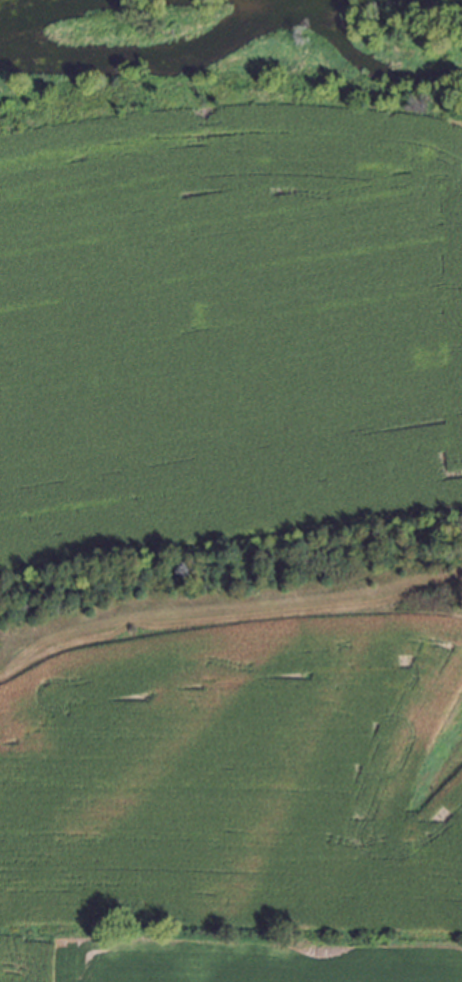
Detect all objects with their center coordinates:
river: (32, 5)

